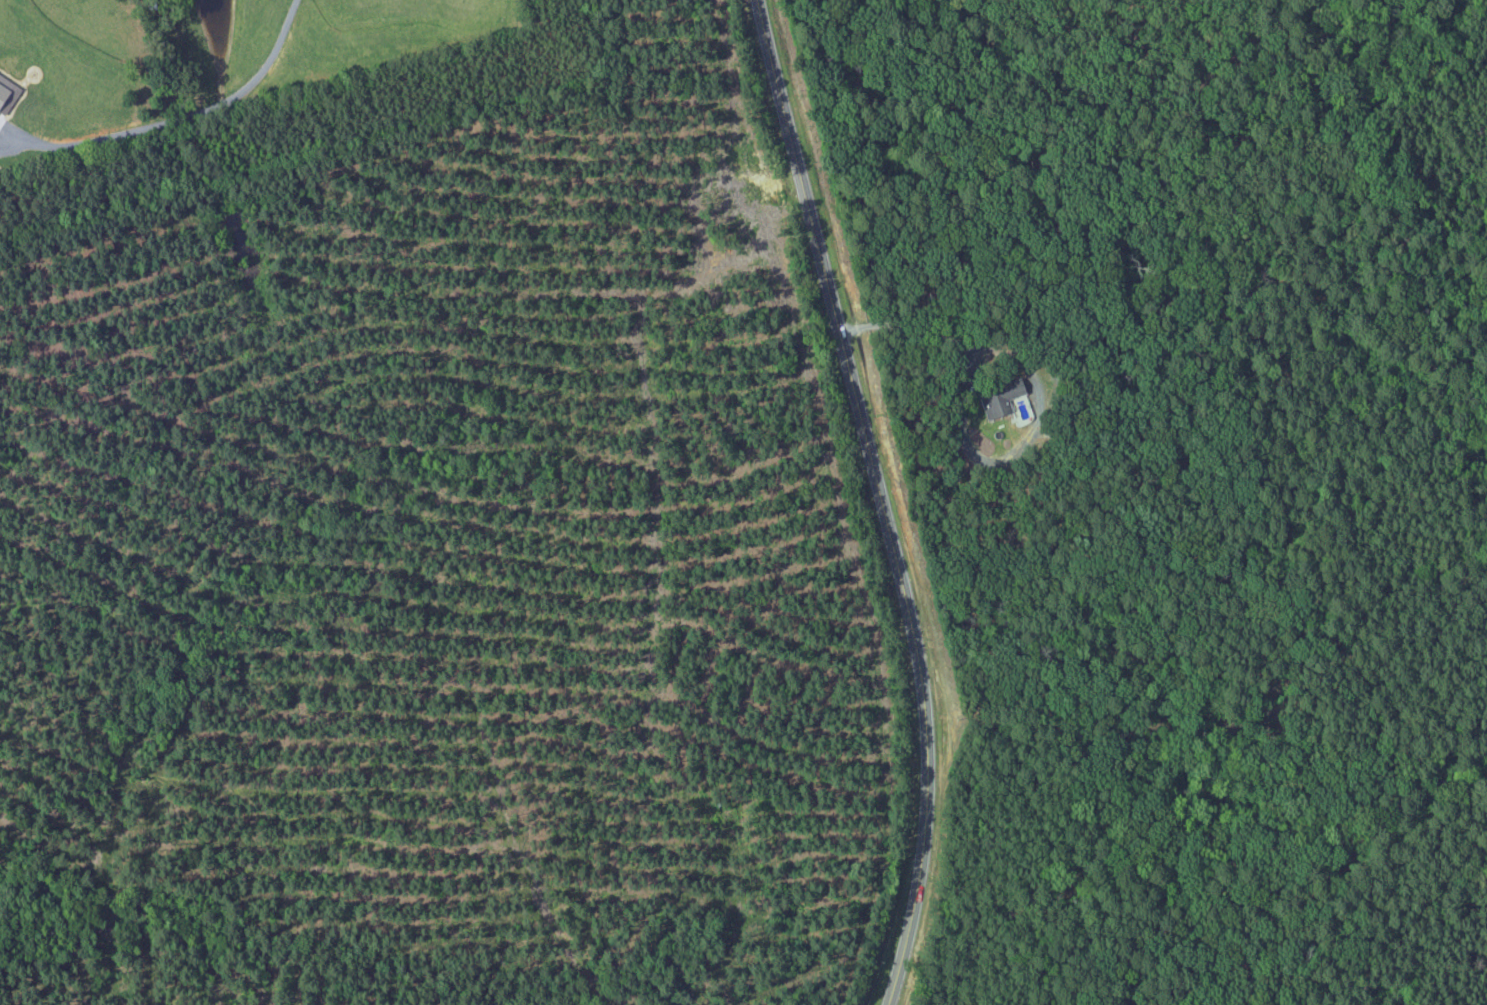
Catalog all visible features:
building: (5, 93)
building: (997, 398)
road: (881, 499)

